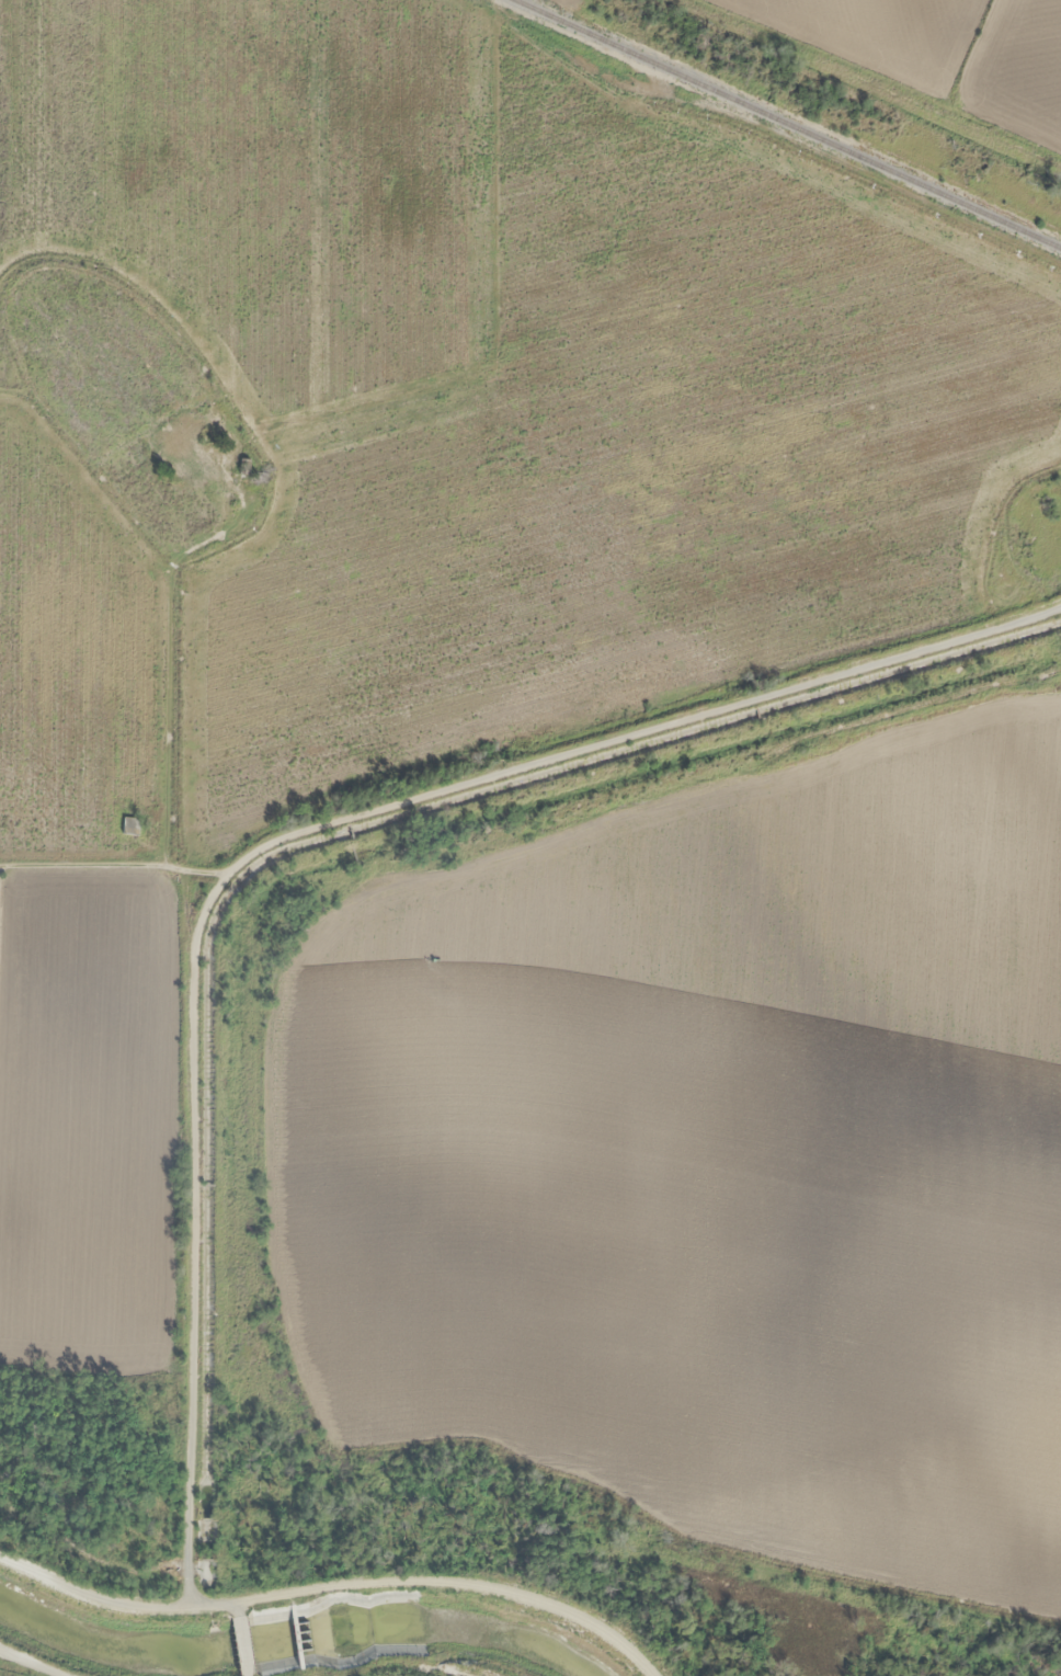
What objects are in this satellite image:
railway: (788, 124)

